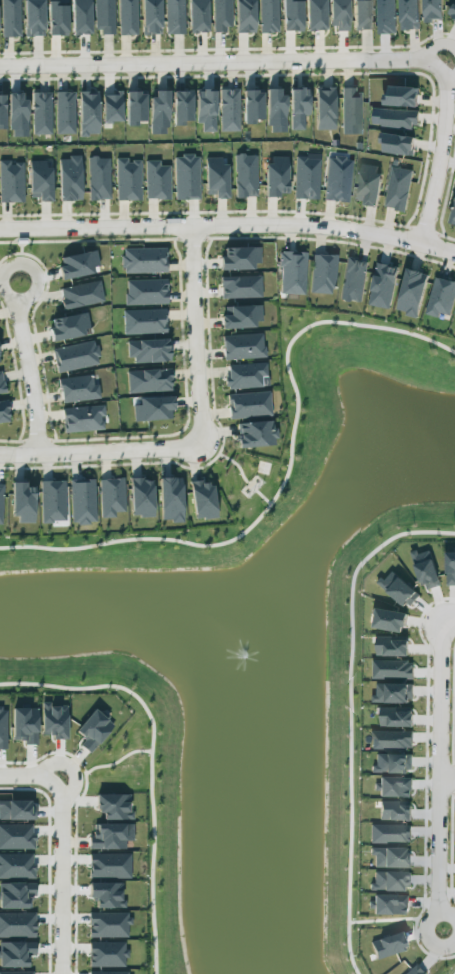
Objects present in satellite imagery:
building: (432, 9)
building: (452, 11)
building: (338, 14)
building: (362, 14)
building: (409, 14)
building: (221, 15)
building: (291, 15)
building: (315, 15)
building: (104, 16)
building: (197, 16)
building: (245, 16)
building: (268, 16)
building: (385, 16)
building: (57, 17)
building: (80, 17)
building: (127, 17)
building: (151, 17)
building: (174, 17)
building: (10, 18)
building: (33, 18)
road: (315, 60)
building: (401, 96)
building: (111, 106)
building: (252, 106)
building: (182, 107)
building: (135, 108)
building: (298, 108)
building: (325, 108)
building: (206, 110)
building: (229, 110)
building: (275, 110)
building: (2, 111)
building: (351, 111)
building: (159, 112)
building: (41, 113)
building: (64, 113)
building: (88, 113)
building: (17, 114)
building: (394, 117)
building: (397, 143)
building: (245, 175)
building: (276, 176)
building: (186, 177)
building: (69, 178)
building: (98, 178)
building: (216, 178)
building: (306, 178)
building: (337, 179)
building: (39, 180)
building: (128, 180)
building: (157, 180)
building: (11, 181)
building: (367, 183)
building: (397, 188)
building: (452, 214)
road: (229, 223)
building: (239, 258)
building: (144, 260)
building: (77, 265)
building: (292, 272)
building: (322, 274)
building: (352, 280)
building: (382, 285)
building: (240, 287)
building: (146, 292)
building: (411, 292)
building: (81, 295)
building: (440, 297)
building: (240, 316)
building: (144, 321)
building: (68, 326)
building: (243, 346)
building: (148, 350)
building: (76, 356)
road: (28, 367)
building: (245, 375)
building: (148, 380)
building: (1, 384)
building: (78, 389)
building: (248, 404)
building: (153, 409)
building: (3, 412)
building: (83, 418)
building: (256, 434)
road: (203, 437)
road: (239, 470)
road: (284, 478)
building: (111, 497)
building: (141, 497)
building: (170, 499)
building: (202, 499)
building: (0, 501)
building: (52, 501)
building: (82, 501)
building: (23, 502)
building: (450, 567)
building: (425, 569)
building: (398, 589)
building: (389, 620)
road: (449, 623)
building: (391, 646)
building: (392, 668)
building: (393, 692)
road: (348, 715)
building: (396, 716)
building: (54, 721)
building: (24, 725)
building: (2, 728)
building: (92, 730)
building: (391, 739)
road: (150, 763)
building: (392, 763)
road: (112, 764)
road: (69, 766)
road: (439, 777)
building: (394, 787)
road: (447, 787)
building: (114, 806)
building: (16, 810)
building: (395, 811)
building: (389, 833)
building: (16, 836)
building: (107, 836)
road: (62, 850)
building: (391, 857)
building: (109, 865)
building: (16, 866)
building: (390, 881)
building: (106, 894)
building: (16, 895)
building: (388, 904)
road: (393, 919)
building: (17, 925)
building: (108, 925)
road: (447, 937)
building: (386, 945)
building: (15, 954)
building: (107, 954)
building: (415, 970)
building: (16, 972)
building: (109, 972)
road: (453, 972)

